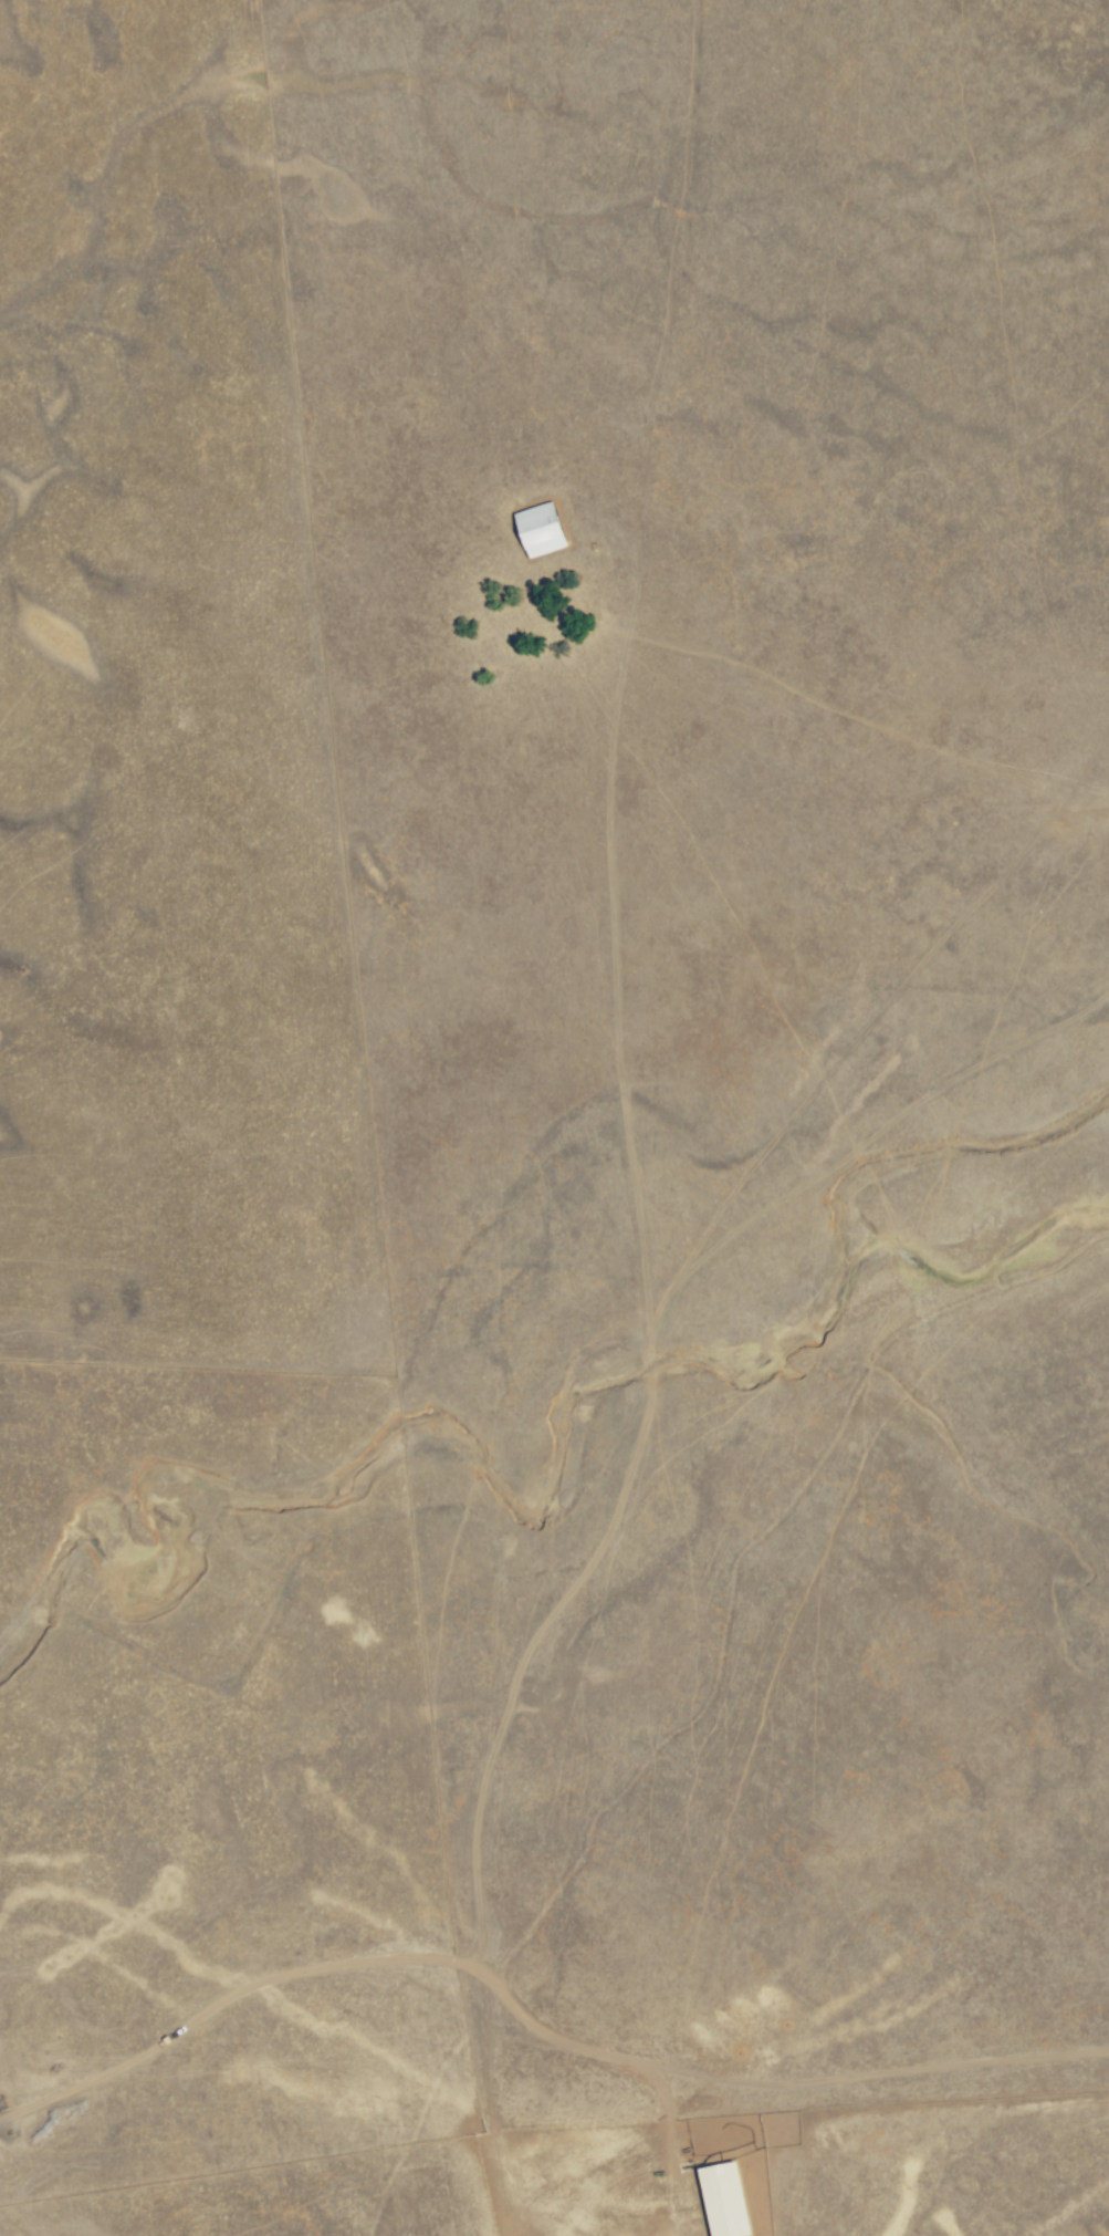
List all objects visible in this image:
building: (537, 532)
road: (344, 2011)
building: (721, 2201)

